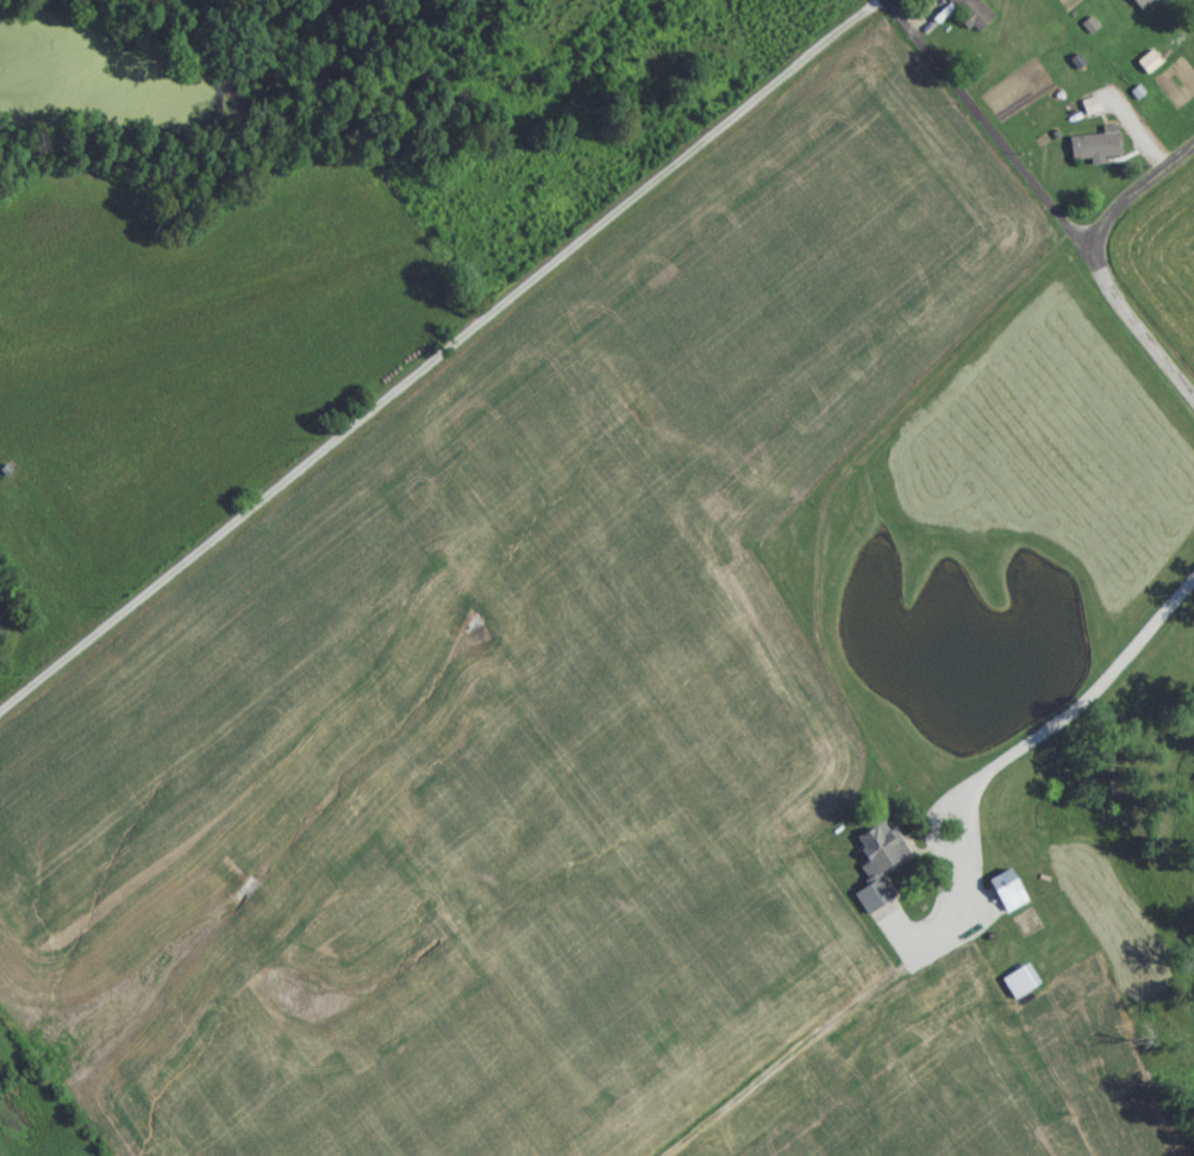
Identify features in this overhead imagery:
building: (1138, 6)
building: (965, 17)
building: (1093, 152)
road: (1040, 201)
road: (1137, 204)
road: (443, 361)
road: (1082, 702)
building: (876, 868)
building: (1004, 898)
building: (1017, 988)

